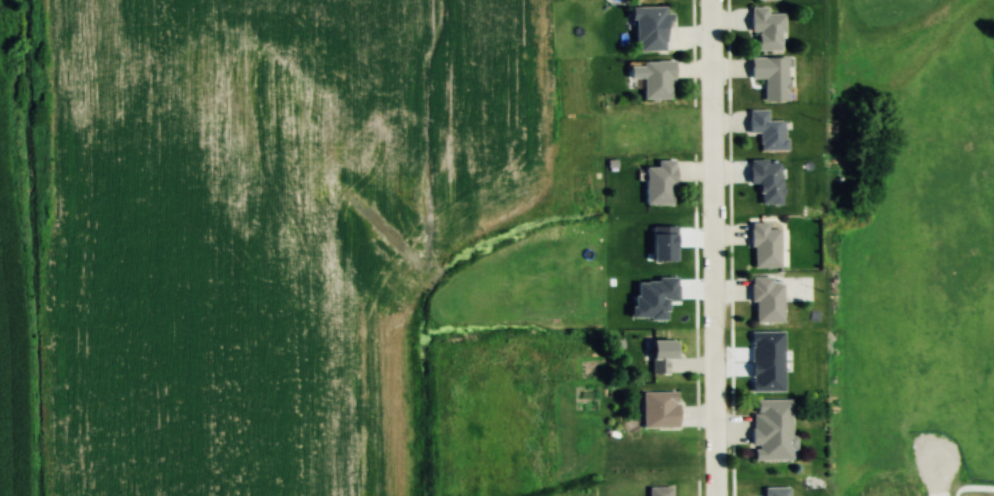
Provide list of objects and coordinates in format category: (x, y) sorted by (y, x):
building: (764, 29)
building: (768, 77)
building: (654, 80)
building: (764, 131)
building: (656, 184)
crop: (264, 226)
building: (762, 246)
park: (908, 246)
road: (713, 248)
building: (763, 300)
building: (659, 356)
building: (657, 407)
building: (769, 430)
building: (657, 491)

